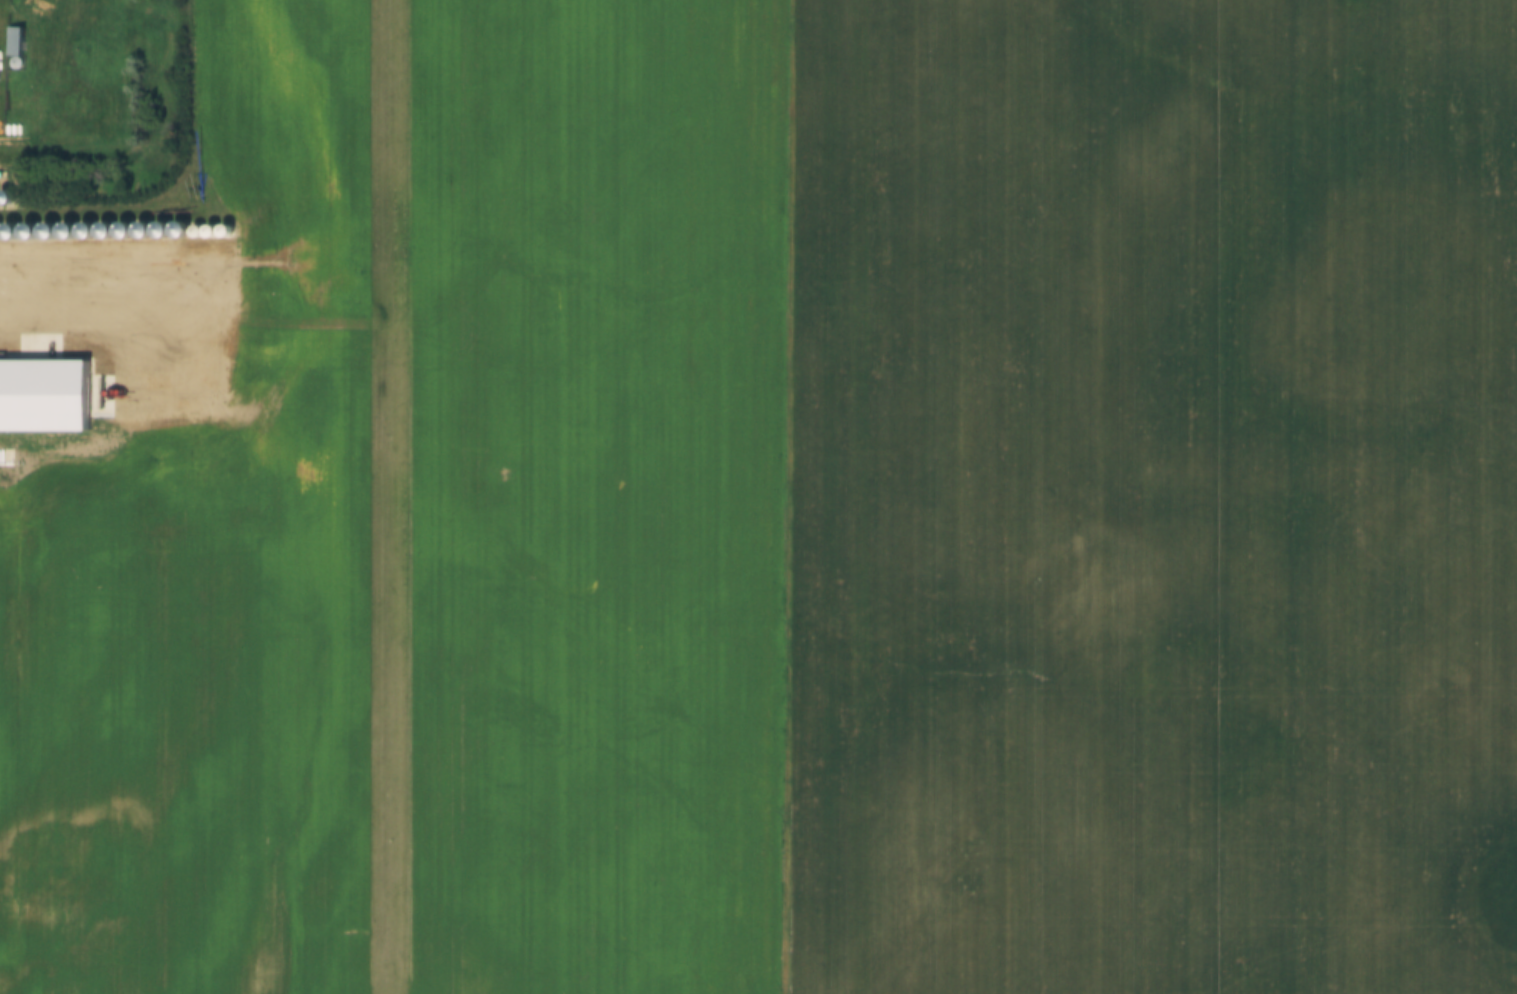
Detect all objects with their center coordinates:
building: (10, 40)
road: (191, 256)
airport runway: (382, 497)

